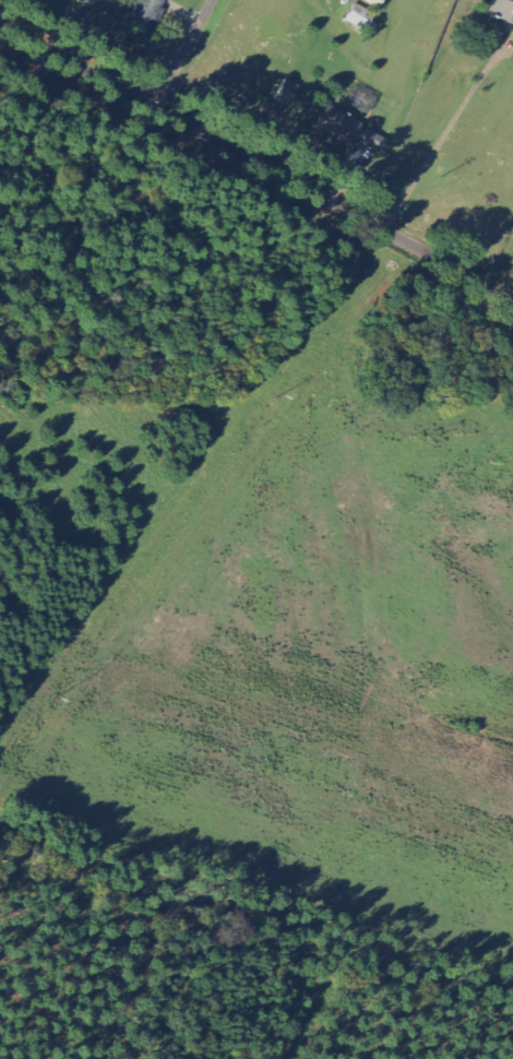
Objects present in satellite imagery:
building: (373, 2)
building: (502, 11)
building: (146, 13)
building: (361, 19)
road: (187, 48)
building: (348, 132)
road: (256, 151)

